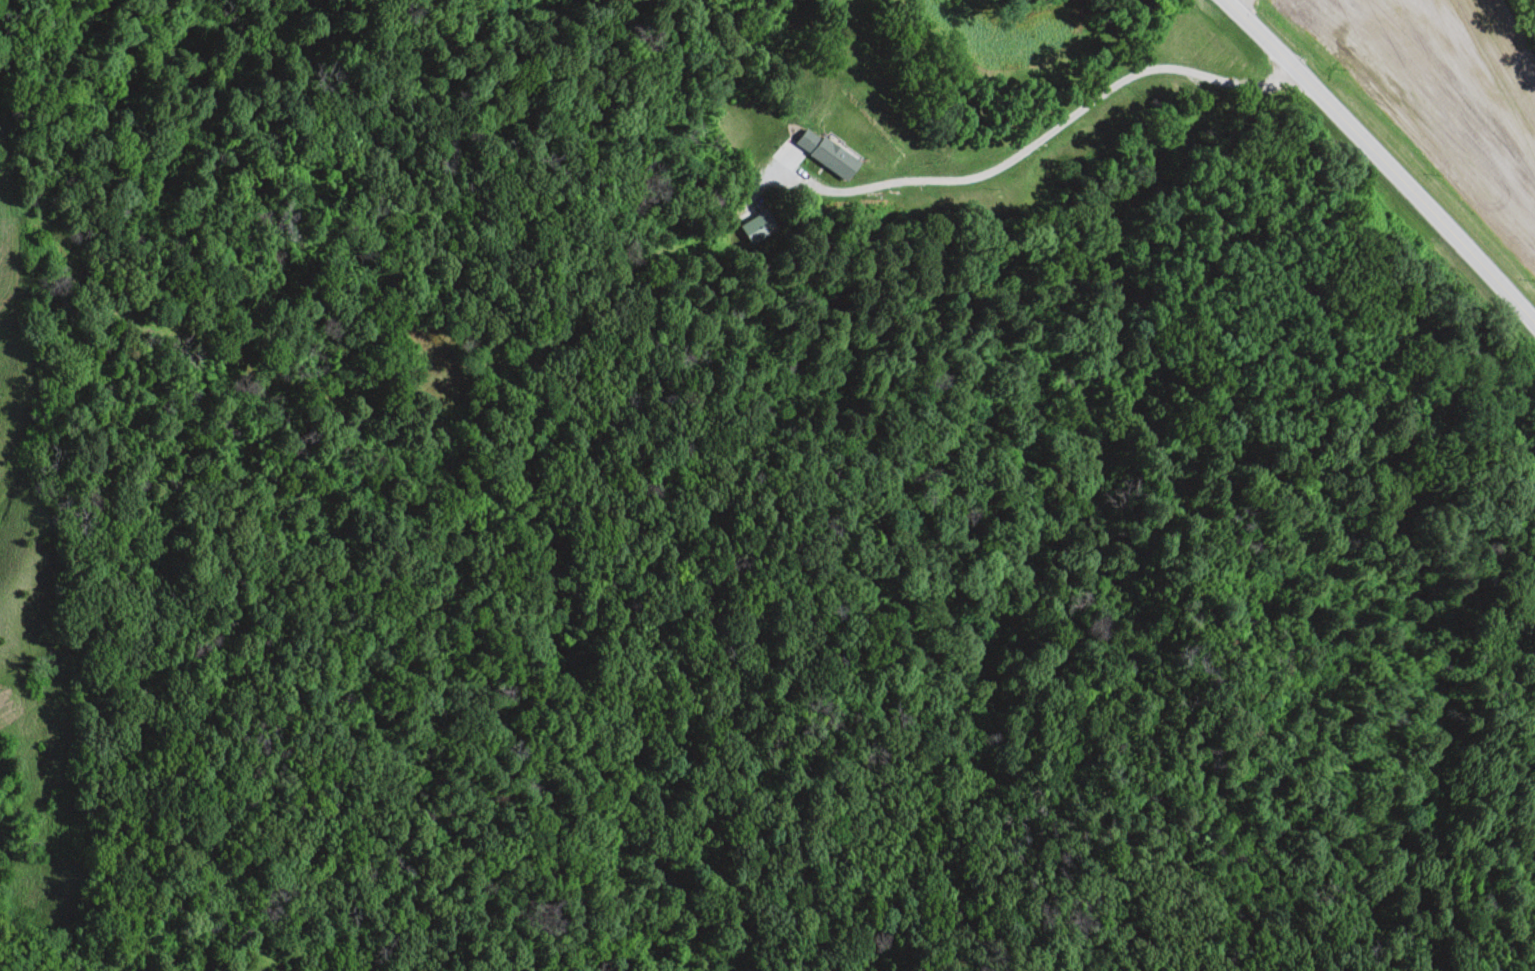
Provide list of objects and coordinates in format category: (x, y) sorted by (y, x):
building: (832, 150)
road: (1383, 162)

